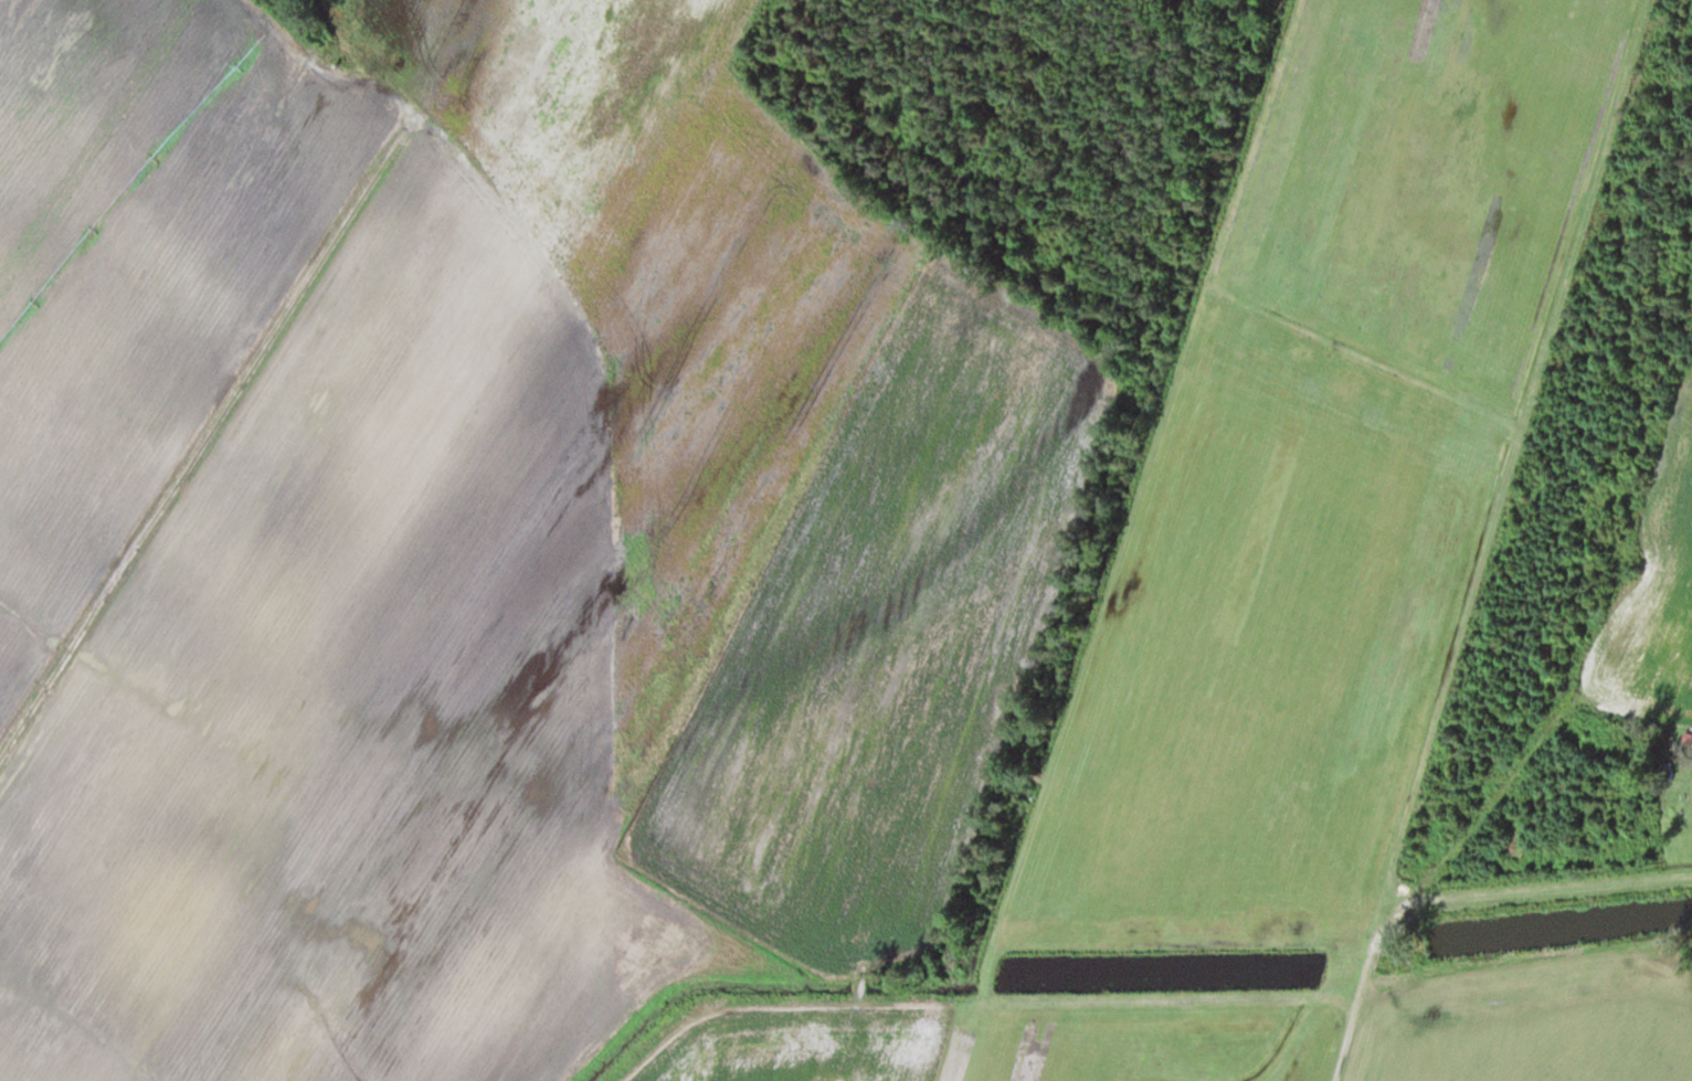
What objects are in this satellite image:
building: (1686, 739)

